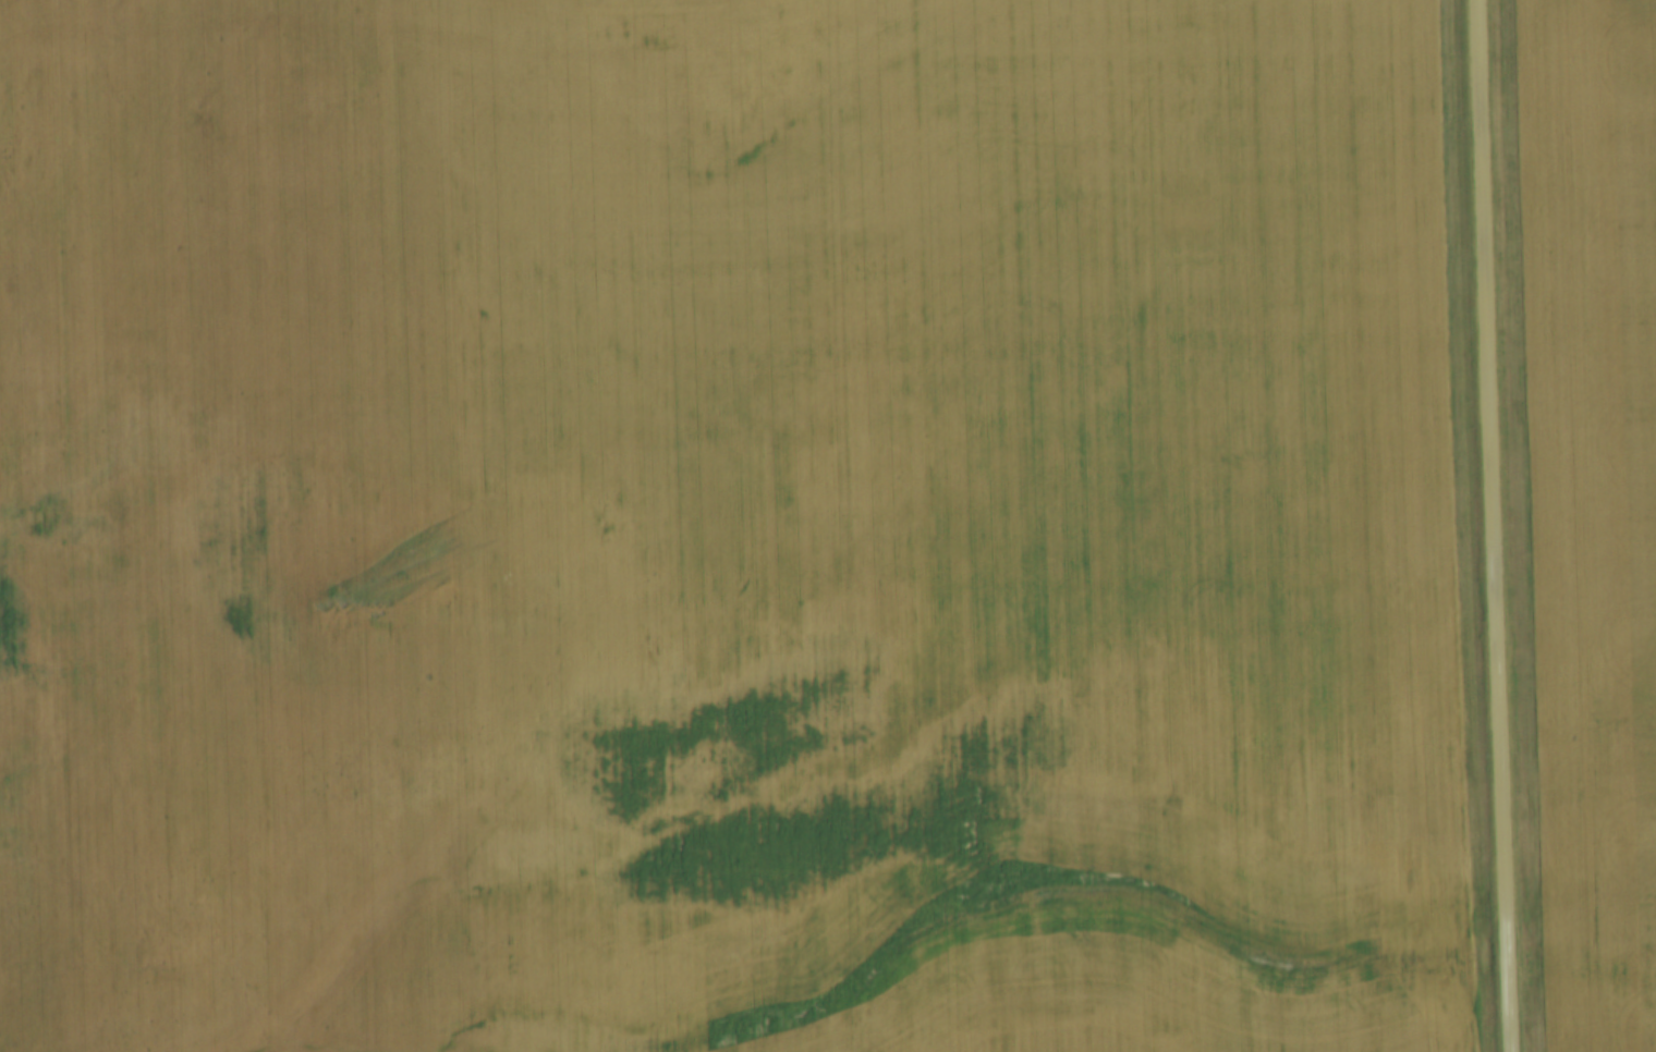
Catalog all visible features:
road: (1496, 525)

